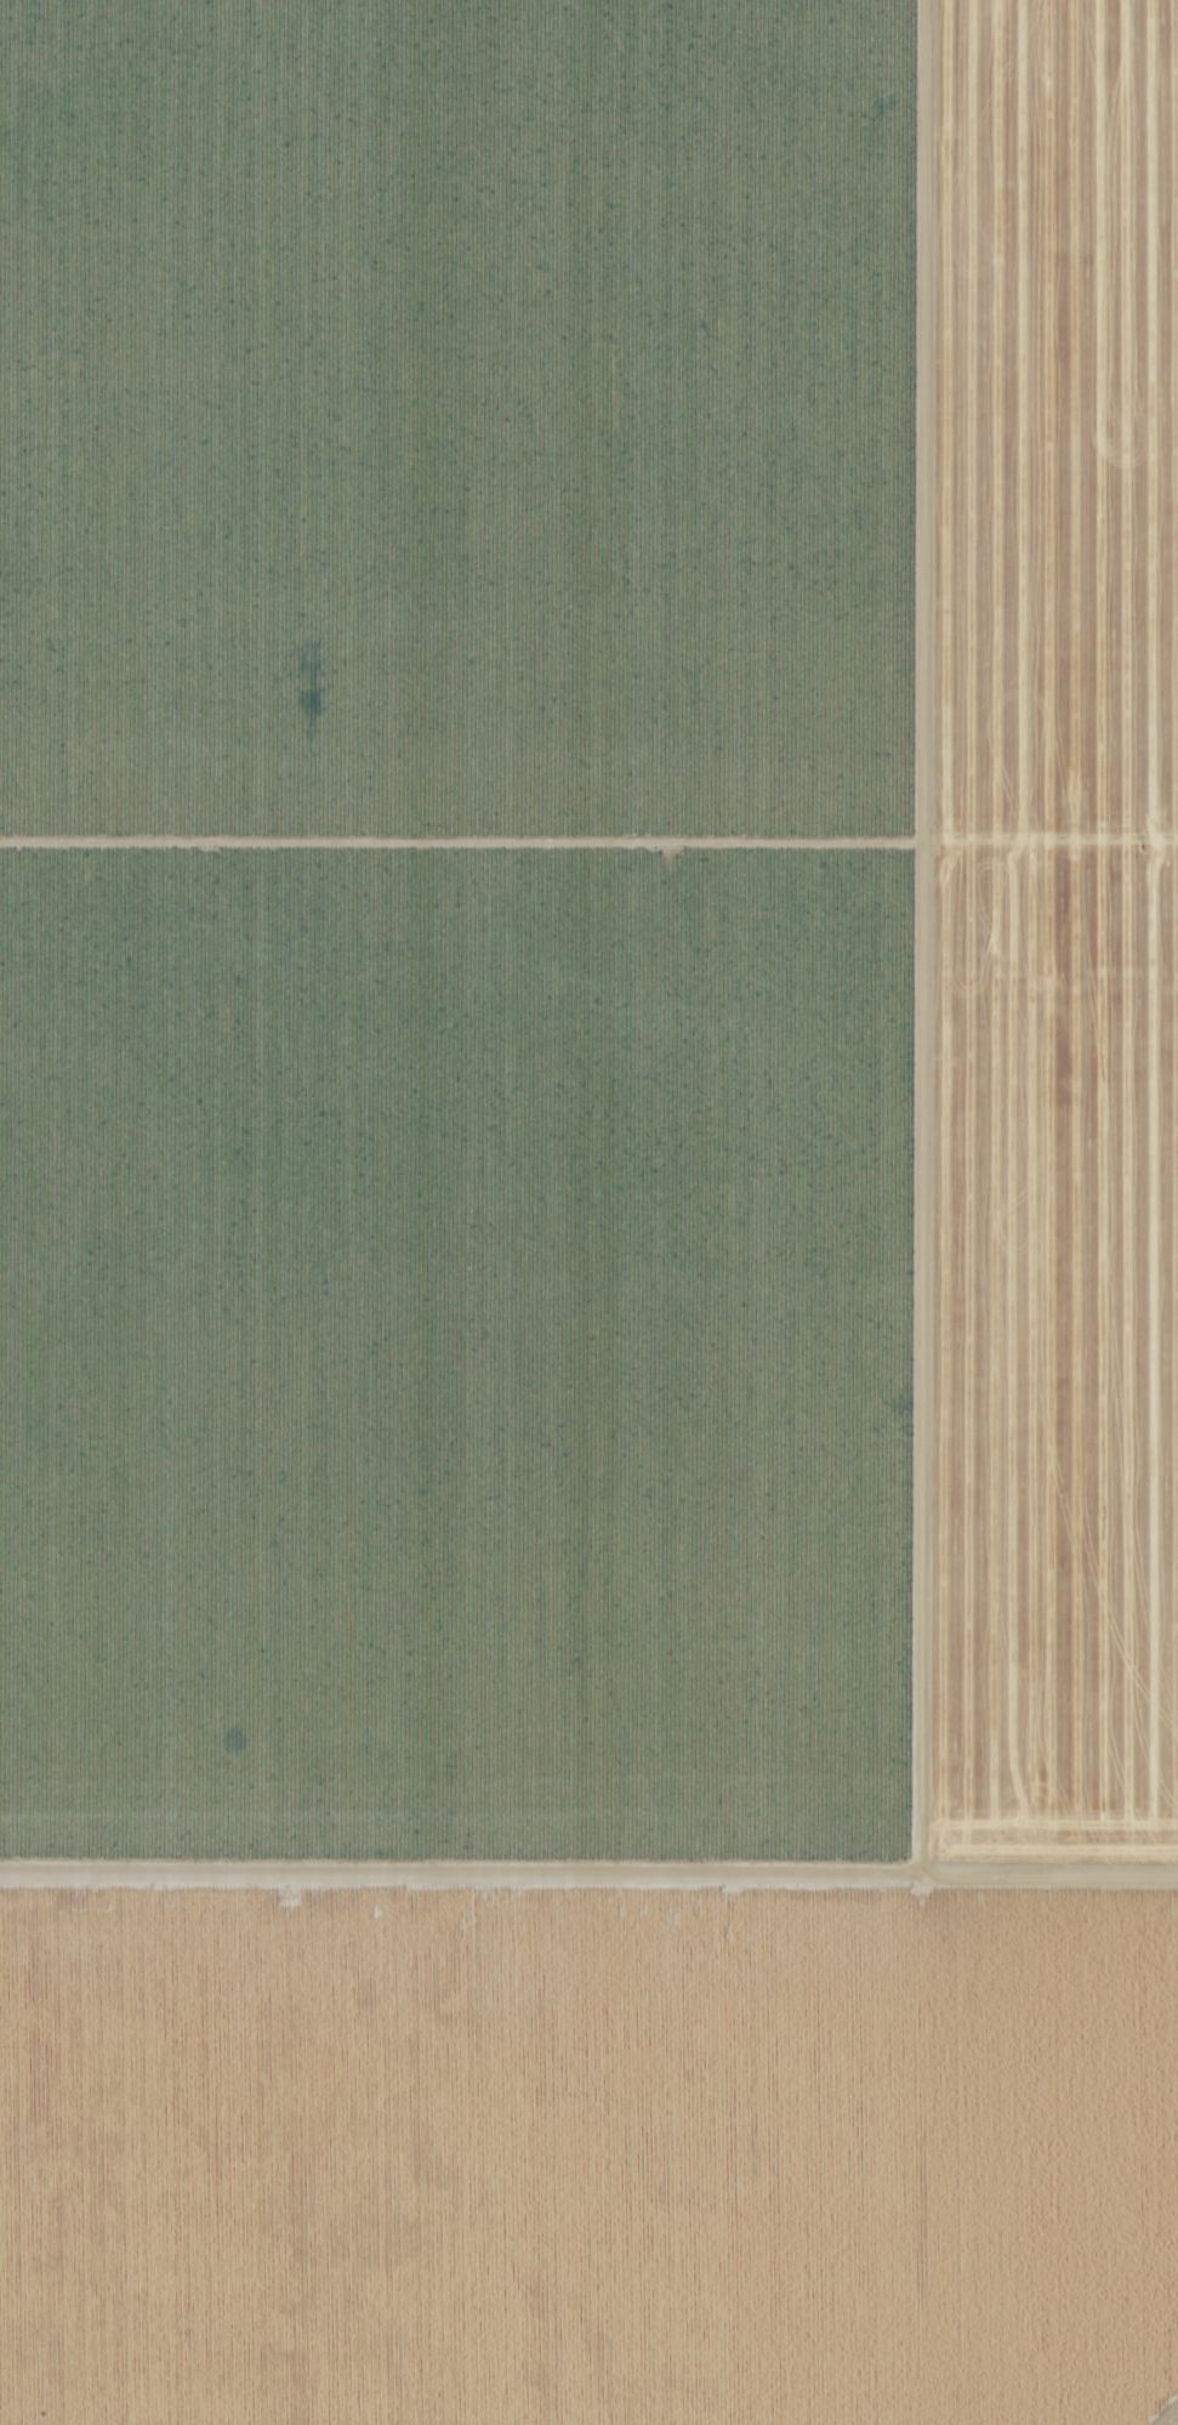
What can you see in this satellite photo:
road: (920, 62)

